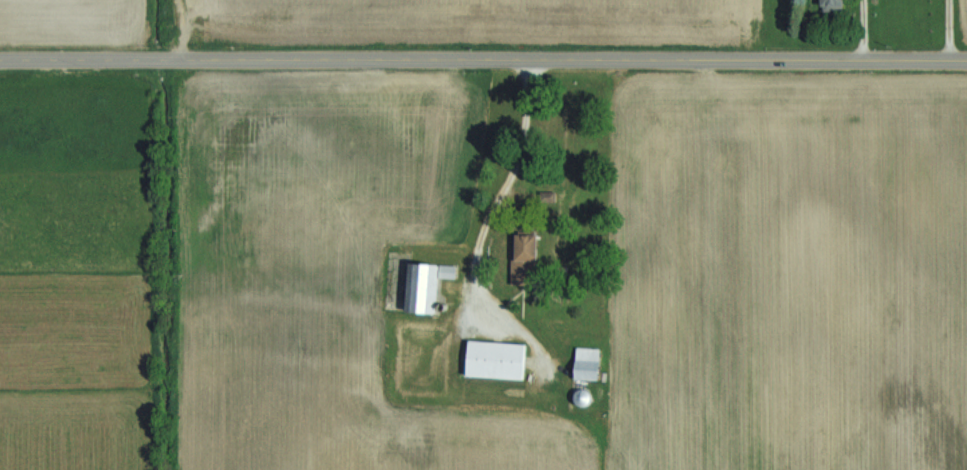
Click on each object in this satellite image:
building: (834, 3)
crop: (476, 22)
crop: (962, 25)
road: (944, 29)
road: (854, 30)
road: (483, 59)
road: (499, 190)
building: (527, 259)
building: (427, 287)
building: (498, 360)
building: (589, 369)
building: (584, 398)

